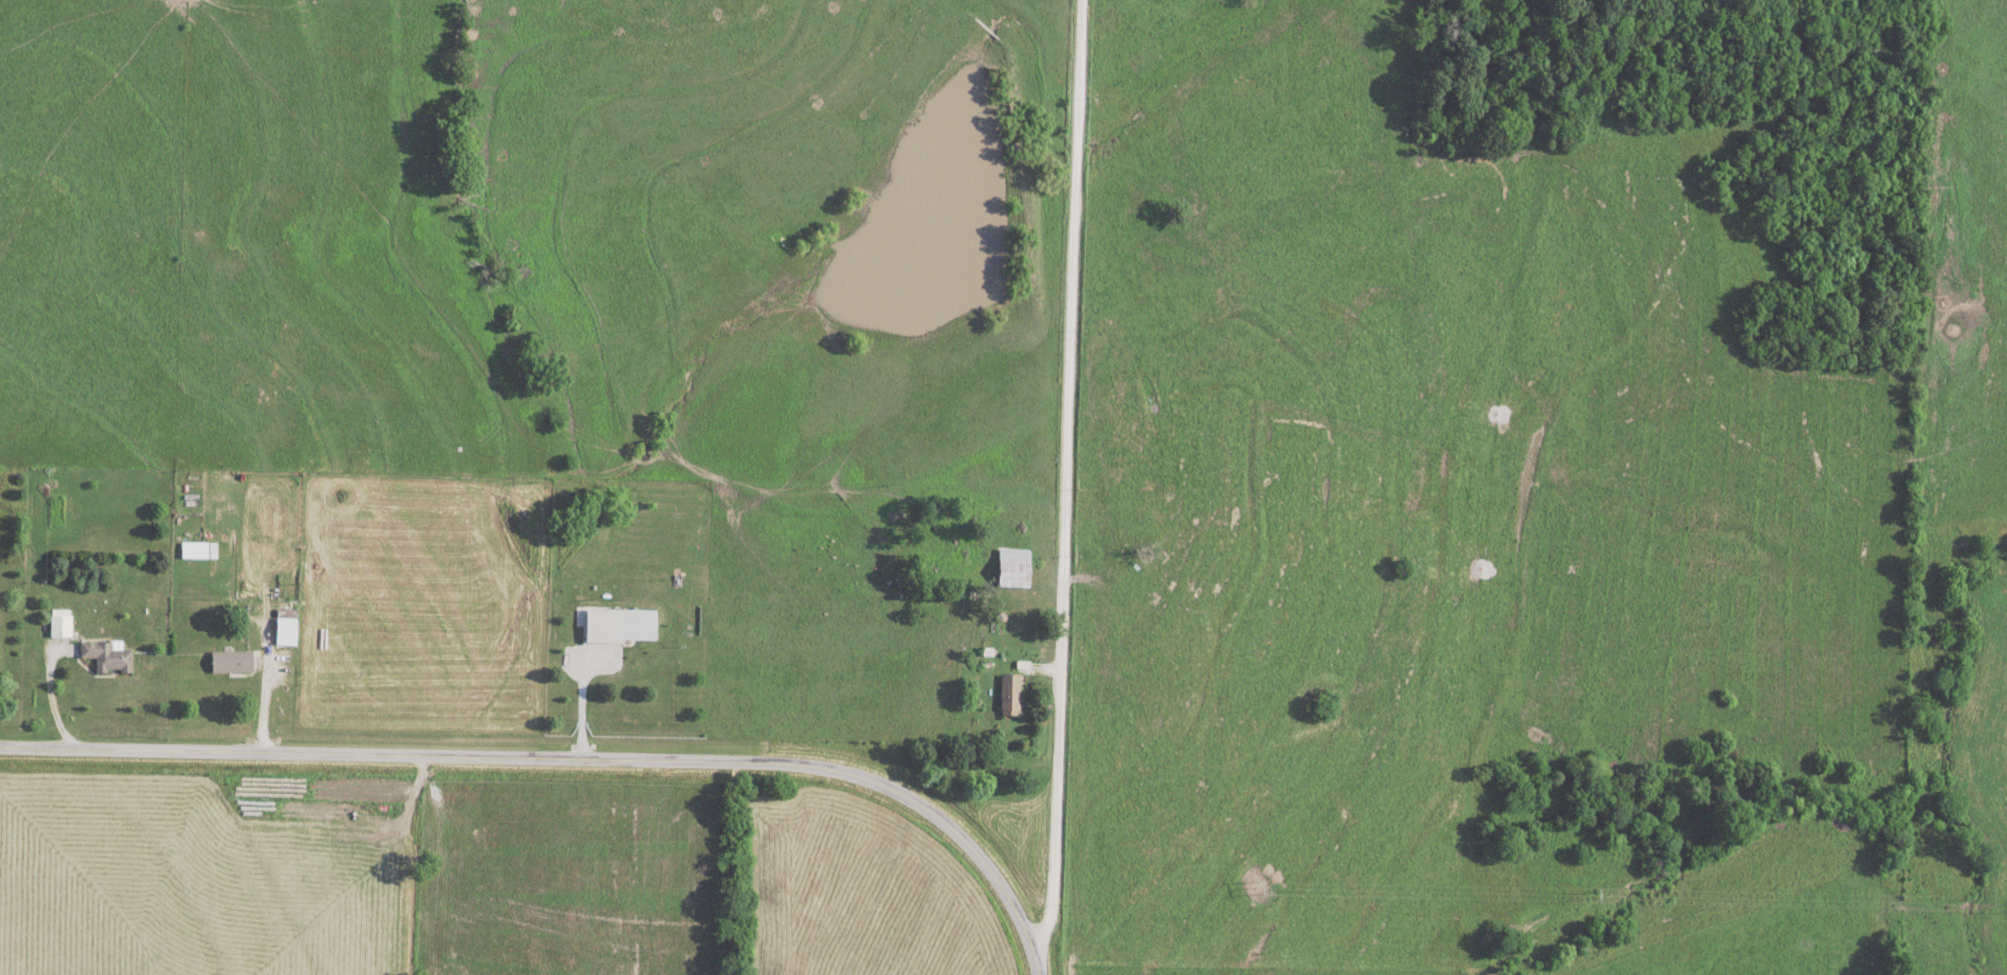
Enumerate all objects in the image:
road: (1064, 472)
building: (194, 549)
building: (1014, 567)
building: (620, 624)
building: (60, 625)
building: (286, 627)
building: (107, 655)
building: (231, 661)
road: (268, 684)
road: (54, 687)
road: (583, 690)
building: (1009, 694)
road: (570, 759)
road: (410, 864)

